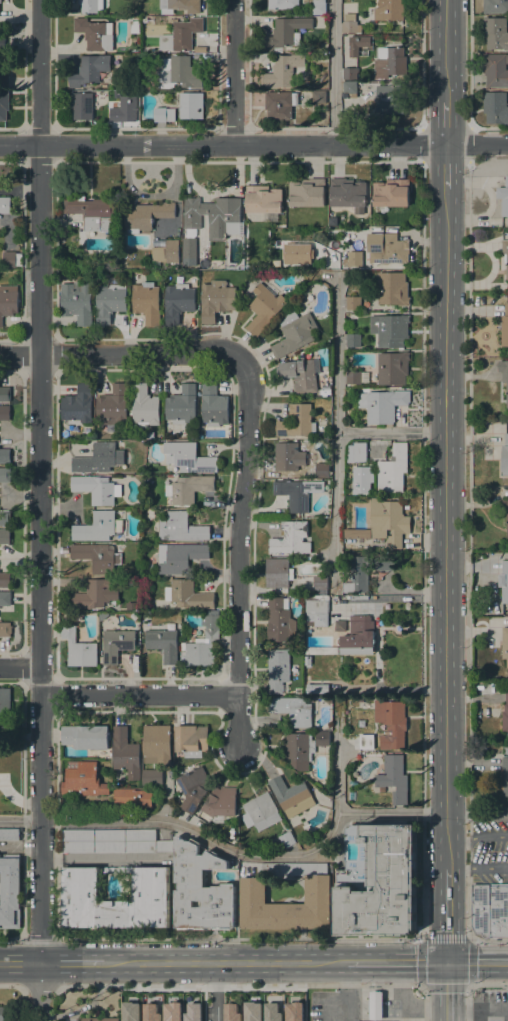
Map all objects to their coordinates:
building: (0, 1)
building: (147, 1)
building: (347, 1)
building: (283, 4)
building: (91, 6)
building: (179, 6)
building: (495, 6)
building: (319, 7)
building: (389, 10)
building: (351, 24)
building: (134, 26)
building: (285, 33)
building: (495, 33)
building: (180, 34)
building: (94, 35)
building: (2, 43)
building: (357, 44)
building: (390, 62)
road: (469, 63)
road: (421, 64)
building: (89, 70)
building: (495, 70)
road: (233, 71)
building: (284, 71)
road: (333, 72)
building: (177, 73)
building: (350, 73)
building: (4, 80)
building: (146, 86)
building: (154, 86)
building: (350, 88)
building: (319, 96)
building: (390, 99)
building: (4, 105)
building: (191, 105)
building: (280, 105)
building: (82, 106)
building: (495, 107)
building: (115, 114)
building: (164, 114)
road: (377, 127)
road: (488, 127)
road: (254, 144)
road: (422, 144)
building: (307, 192)
building: (391, 193)
building: (348, 194)
building: (504, 198)
building: (264, 201)
building: (5, 205)
building: (93, 212)
building: (146, 216)
building: (210, 220)
building: (333, 221)
building: (386, 248)
building: (166, 252)
building: (296, 253)
building: (505, 257)
building: (355, 258)
building: (11, 259)
building: (325, 286)
building: (393, 289)
building: (215, 298)
building: (8, 301)
building: (77, 301)
building: (110, 302)
building: (147, 302)
building: (177, 302)
building: (353, 303)
building: (264, 308)
building: (504, 327)
building: (390, 330)
building: (294, 333)
building: (322, 336)
building: (353, 340)
road: (124, 353)
building: (393, 368)
building: (301, 374)
building: (504, 376)
building: (353, 377)
building: (5, 394)
building: (78, 405)
building: (181, 405)
building: (382, 405)
building: (113, 406)
building: (144, 406)
building: (213, 406)
building: (5, 413)
building: (297, 421)
road: (391, 431)
road: (337, 434)
road: (444, 452)
building: (356, 453)
building: (5, 456)
building: (505, 456)
building: (188, 457)
building: (289, 457)
building: (100, 458)
building: (322, 470)
building: (392, 470)
building: (5, 474)
building: (362, 479)
building: (188, 488)
building: (96, 489)
building: (296, 492)
road: (40, 510)
building: (5, 518)
building: (384, 523)
building: (507, 525)
building: (97, 527)
building: (181, 527)
building: (4, 537)
building: (291, 538)
road: (241, 550)
building: (96, 556)
building: (179, 557)
building: (384, 563)
building: (277, 572)
building: (357, 576)
building: (4, 580)
building: (320, 583)
building: (505, 586)
building: (93, 594)
building: (187, 595)
building: (5, 599)
road: (388, 599)
building: (130, 607)
building: (317, 612)
building: (103, 615)
building: (280, 620)
building: (5, 629)
building: (358, 636)
building: (202, 643)
building: (116, 644)
building: (163, 644)
building: (505, 645)
building: (78, 648)
building: (321, 650)
building: (307, 660)
road: (20, 665)
building: (279, 671)
road: (376, 675)
building: (317, 688)
road: (140, 695)
building: (360, 703)
building: (5, 704)
building: (292, 710)
building: (505, 722)
building: (391, 723)
road: (422, 732)
building: (88, 739)
building: (322, 739)
building: (191, 740)
building: (156, 744)
building: (366, 744)
building: (299, 750)
building: (125, 753)
building: (505, 775)
building: (152, 777)
building: (394, 777)
building: (82, 779)
building: (194, 788)
building: (291, 796)
building: (132, 798)
building: (218, 804)
building: (260, 812)
road: (343, 813)
road: (477, 814)
road: (182, 826)
building: (9, 834)
road: (477, 837)
building: (287, 839)
building: (112, 841)
road: (100, 856)
road: (477, 868)
building: (378, 881)
building: (151, 886)
building: (200, 890)
building: (317, 890)
building: (9, 892)
building: (489, 910)
road: (448, 933)
road: (12, 936)
road: (40, 937)
road: (422, 940)
road: (488, 940)
road: (222, 961)
road: (395, 961)
traffic signals: (447, 961)
road: (477, 961)
road: (20, 962)
road: (70, 962)
road: (488, 984)
road: (10, 985)
road: (39, 985)
road: (257, 985)
road: (345, 990)
road: (215, 991)
road: (400, 991)
road: (447, 991)
road: (468, 1002)
building: (376, 1005)
road: (424, 1010)
building: (130, 1011)
building: (171, 1011)
building: (251, 1011)
building: (293, 1011)
building: (150, 1012)
building: (192, 1012)
building: (230, 1012)
building: (271, 1012)
building: (2, 1014)
building: (99, 1019)

